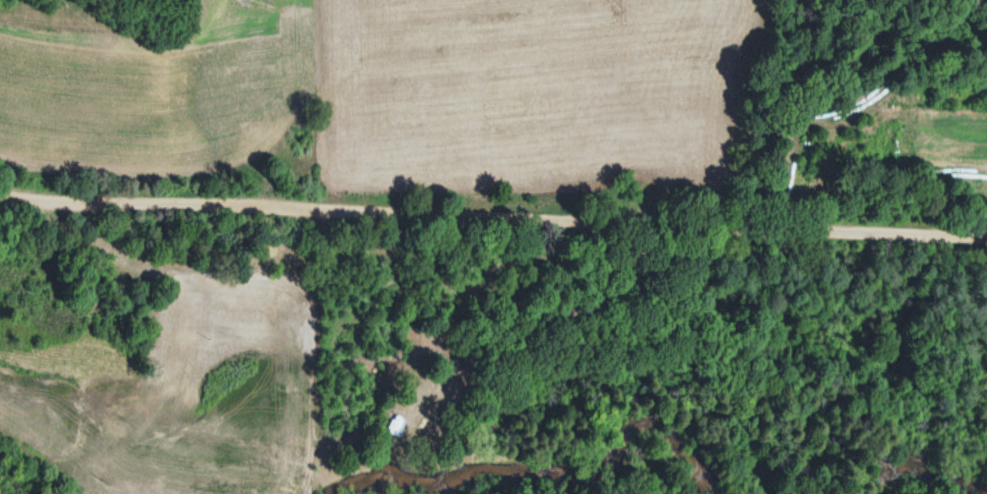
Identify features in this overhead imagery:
road: (492, 214)
river: (922, 463)
river: (549, 473)
river: (13, 479)

